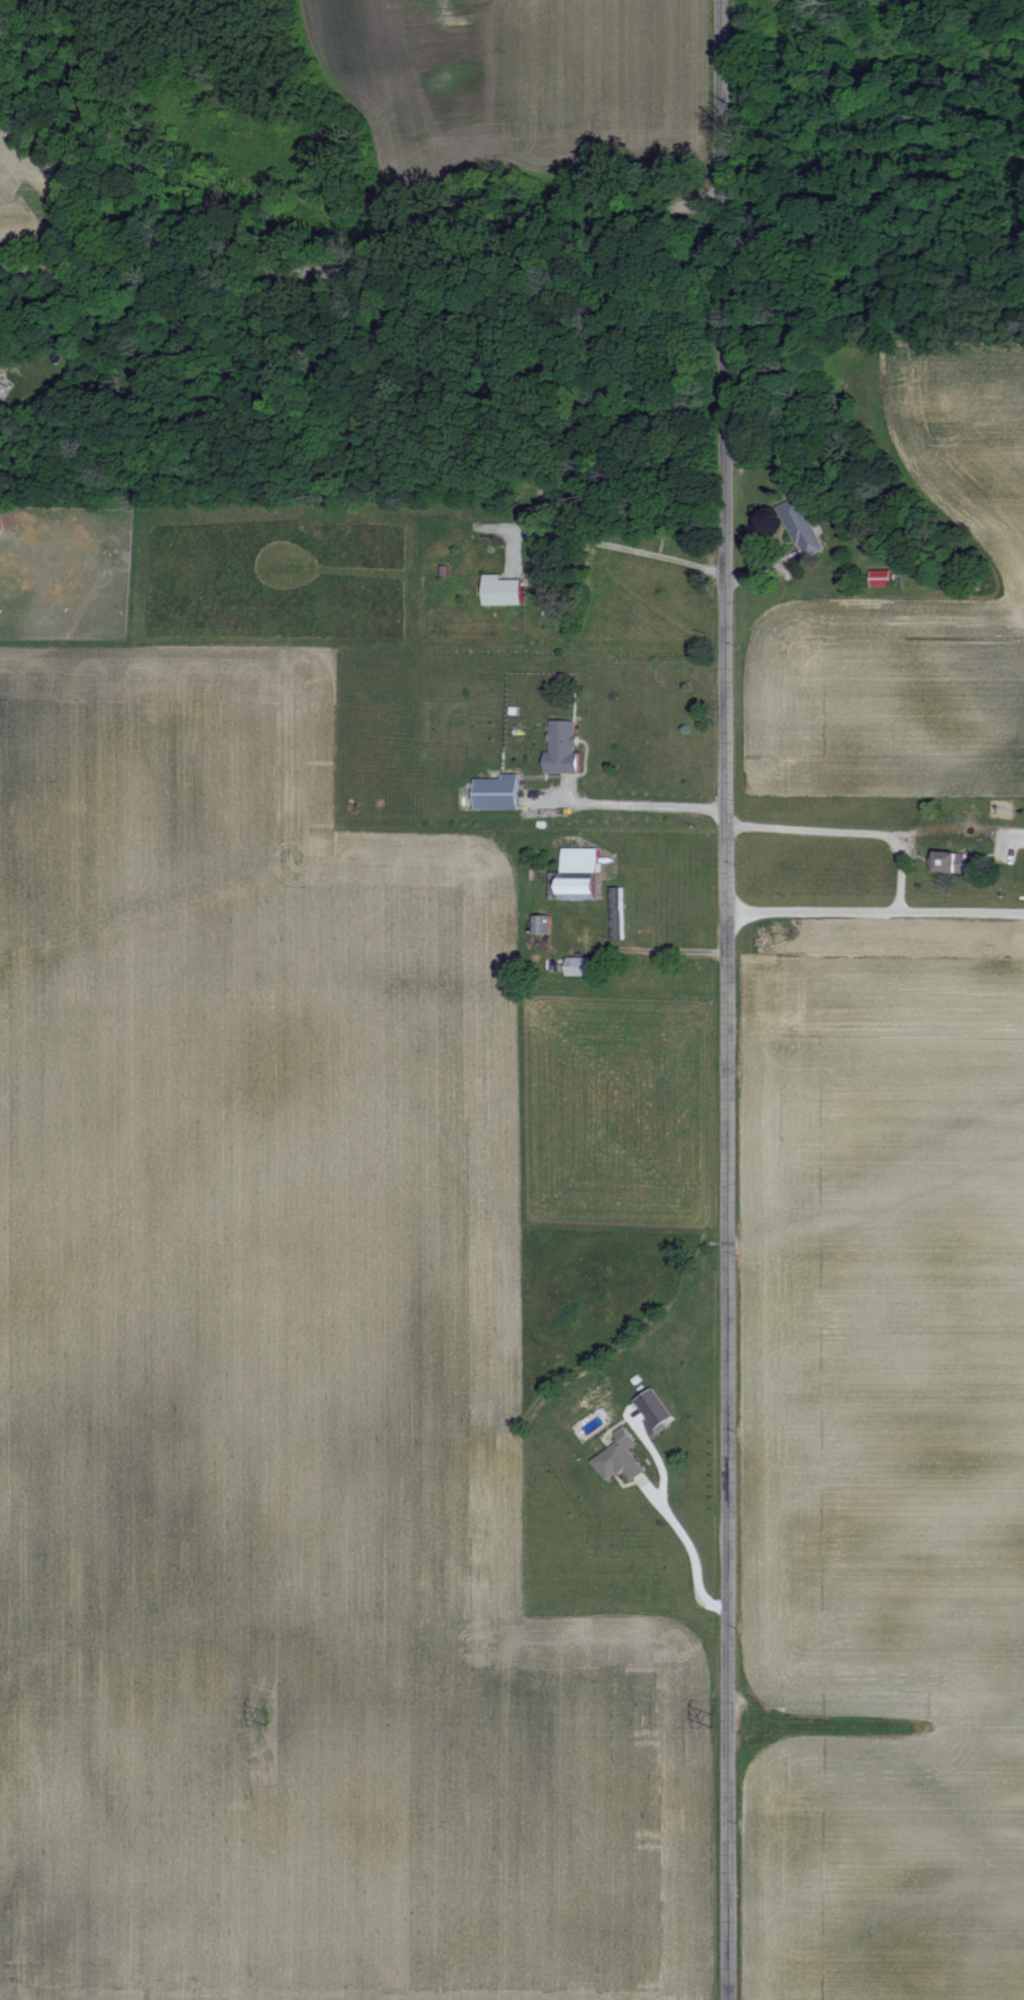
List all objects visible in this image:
road: (363, 236)
building: (799, 527)
road: (616, 544)
building: (879, 578)
building: (500, 591)
building: (560, 747)
building: (495, 792)
road: (632, 803)
road: (877, 836)
building: (949, 861)
building: (577, 871)
building: (614, 913)
road: (876, 916)
building: (539, 923)
road: (677, 951)
building: (577, 966)
road: (727, 999)
building: (652, 1412)
building: (616, 1457)
road: (687, 1546)
power tower: (262, 1716)
power tower: (709, 1718)

